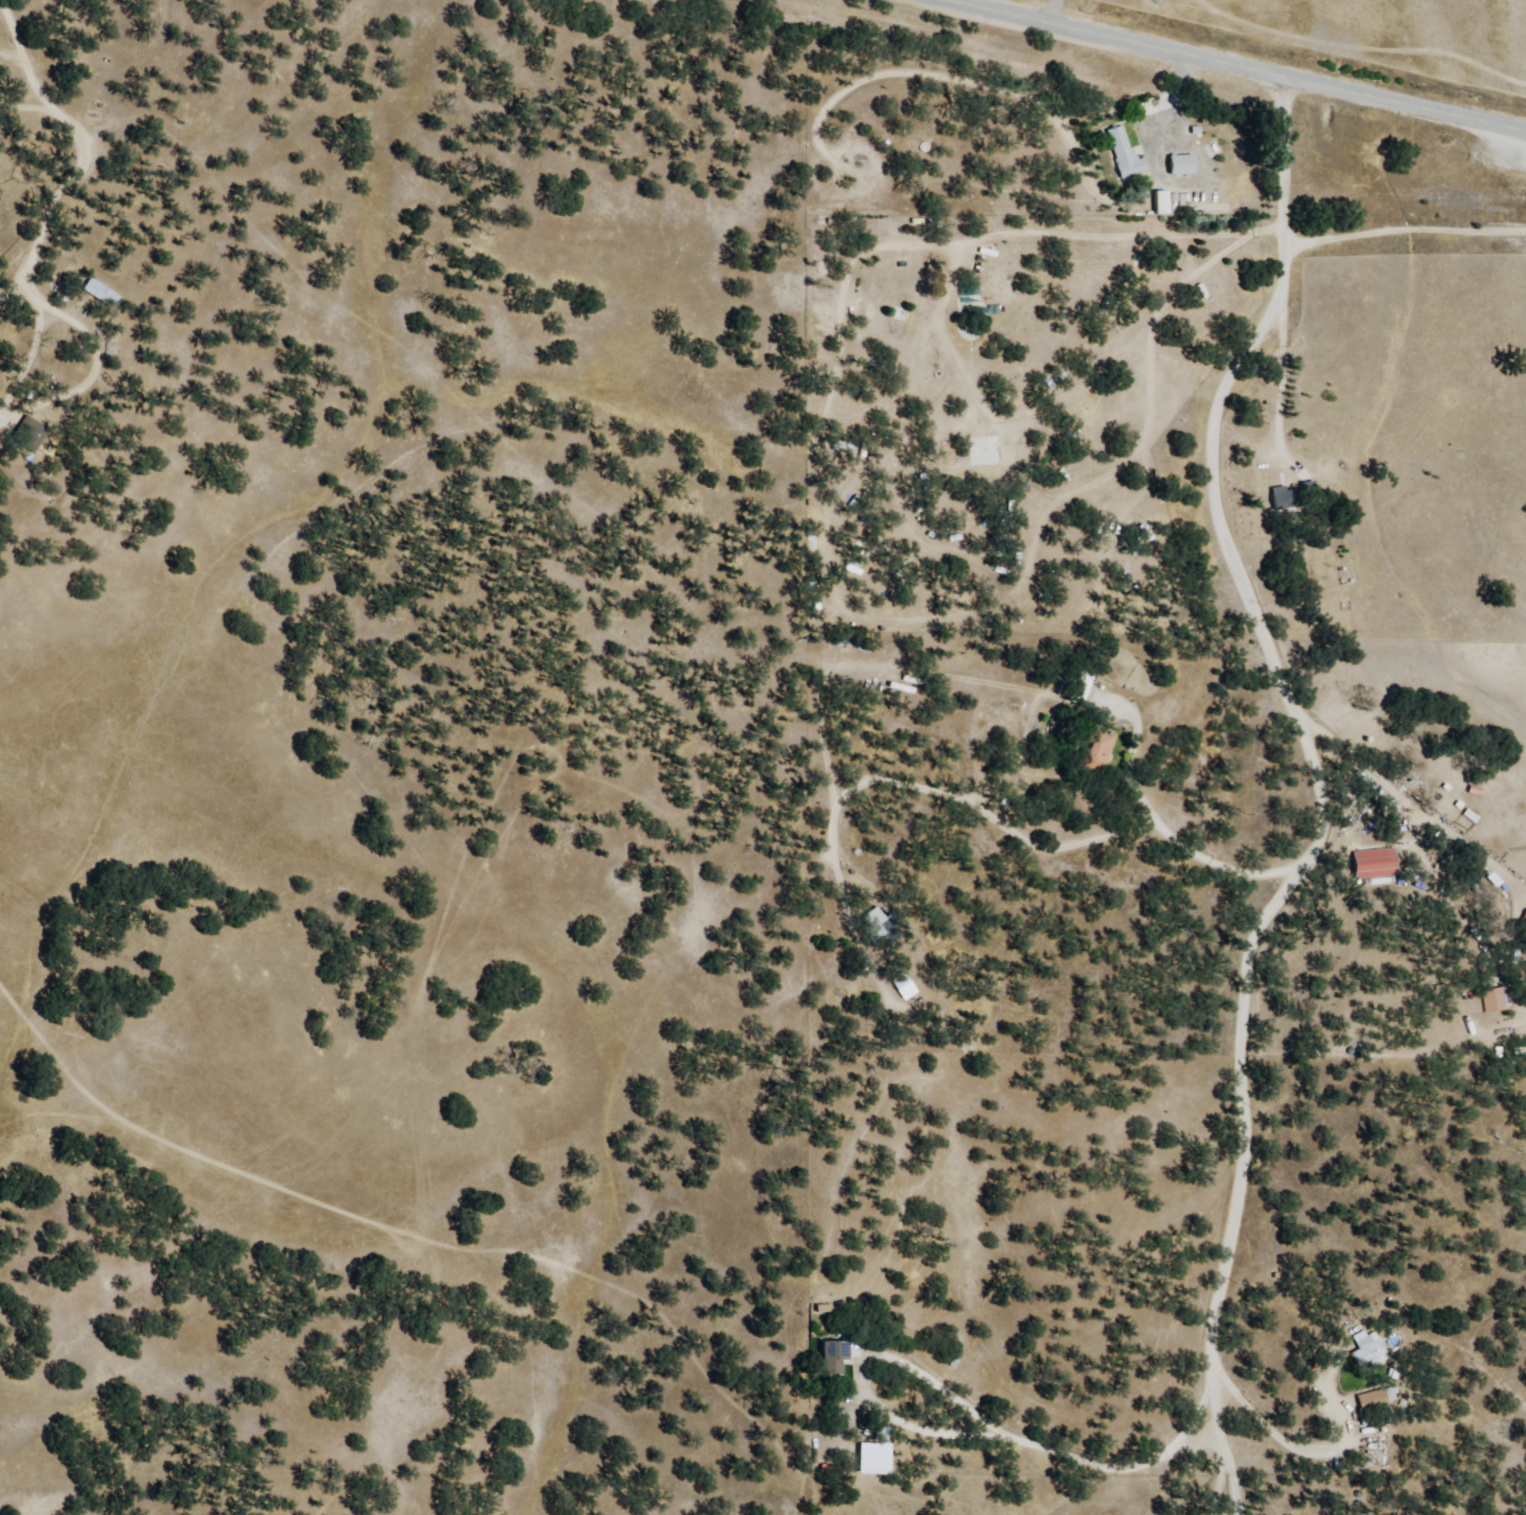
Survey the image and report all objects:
road: (987, 6)
road: (1176, 27)
road: (1226, 67)
building: (1123, 157)
building: (1179, 165)
road: (1393, 202)
building: (851, 227)
building: (98, 293)
road: (1241, 420)
building: (25, 434)
building: (1278, 497)
road: (1376, 590)
road: (1157, 652)
building: (896, 689)
building: (1078, 690)
road: (1389, 802)
building: (1467, 818)
building: (1370, 865)
building: (880, 928)
building: (902, 986)
building: (1490, 1001)
road: (1202, 1175)
building: (1364, 1352)
building: (833, 1358)
building: (1373, 1400)

